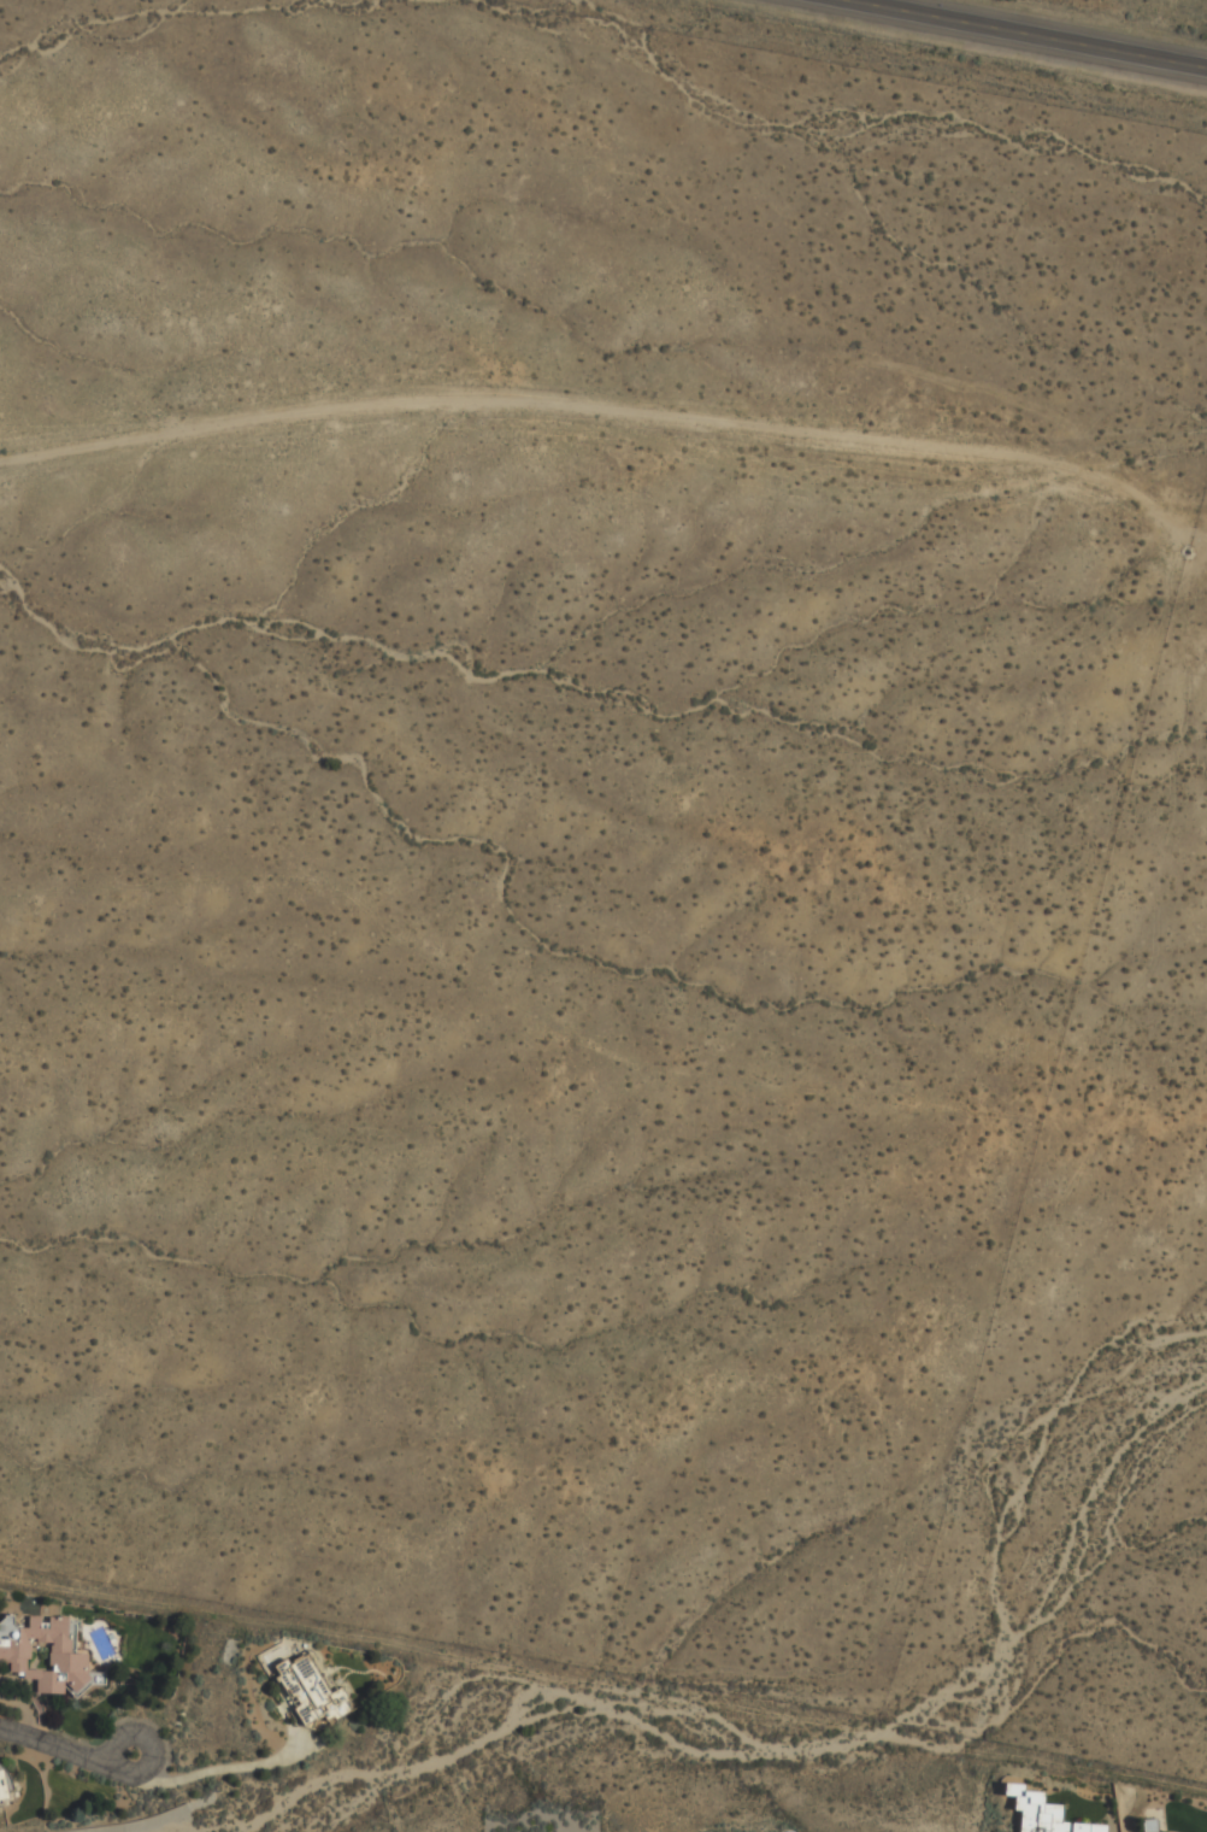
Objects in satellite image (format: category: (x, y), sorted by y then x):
road: (1029, 33)
road: (611, 413)
building: (46, 1655)
building: (310, 1690)
road: (53, 1743)
road: (149, 1745)
building: (5, 1787)
building: (1043, 1813)
building: (1149, 1825)

